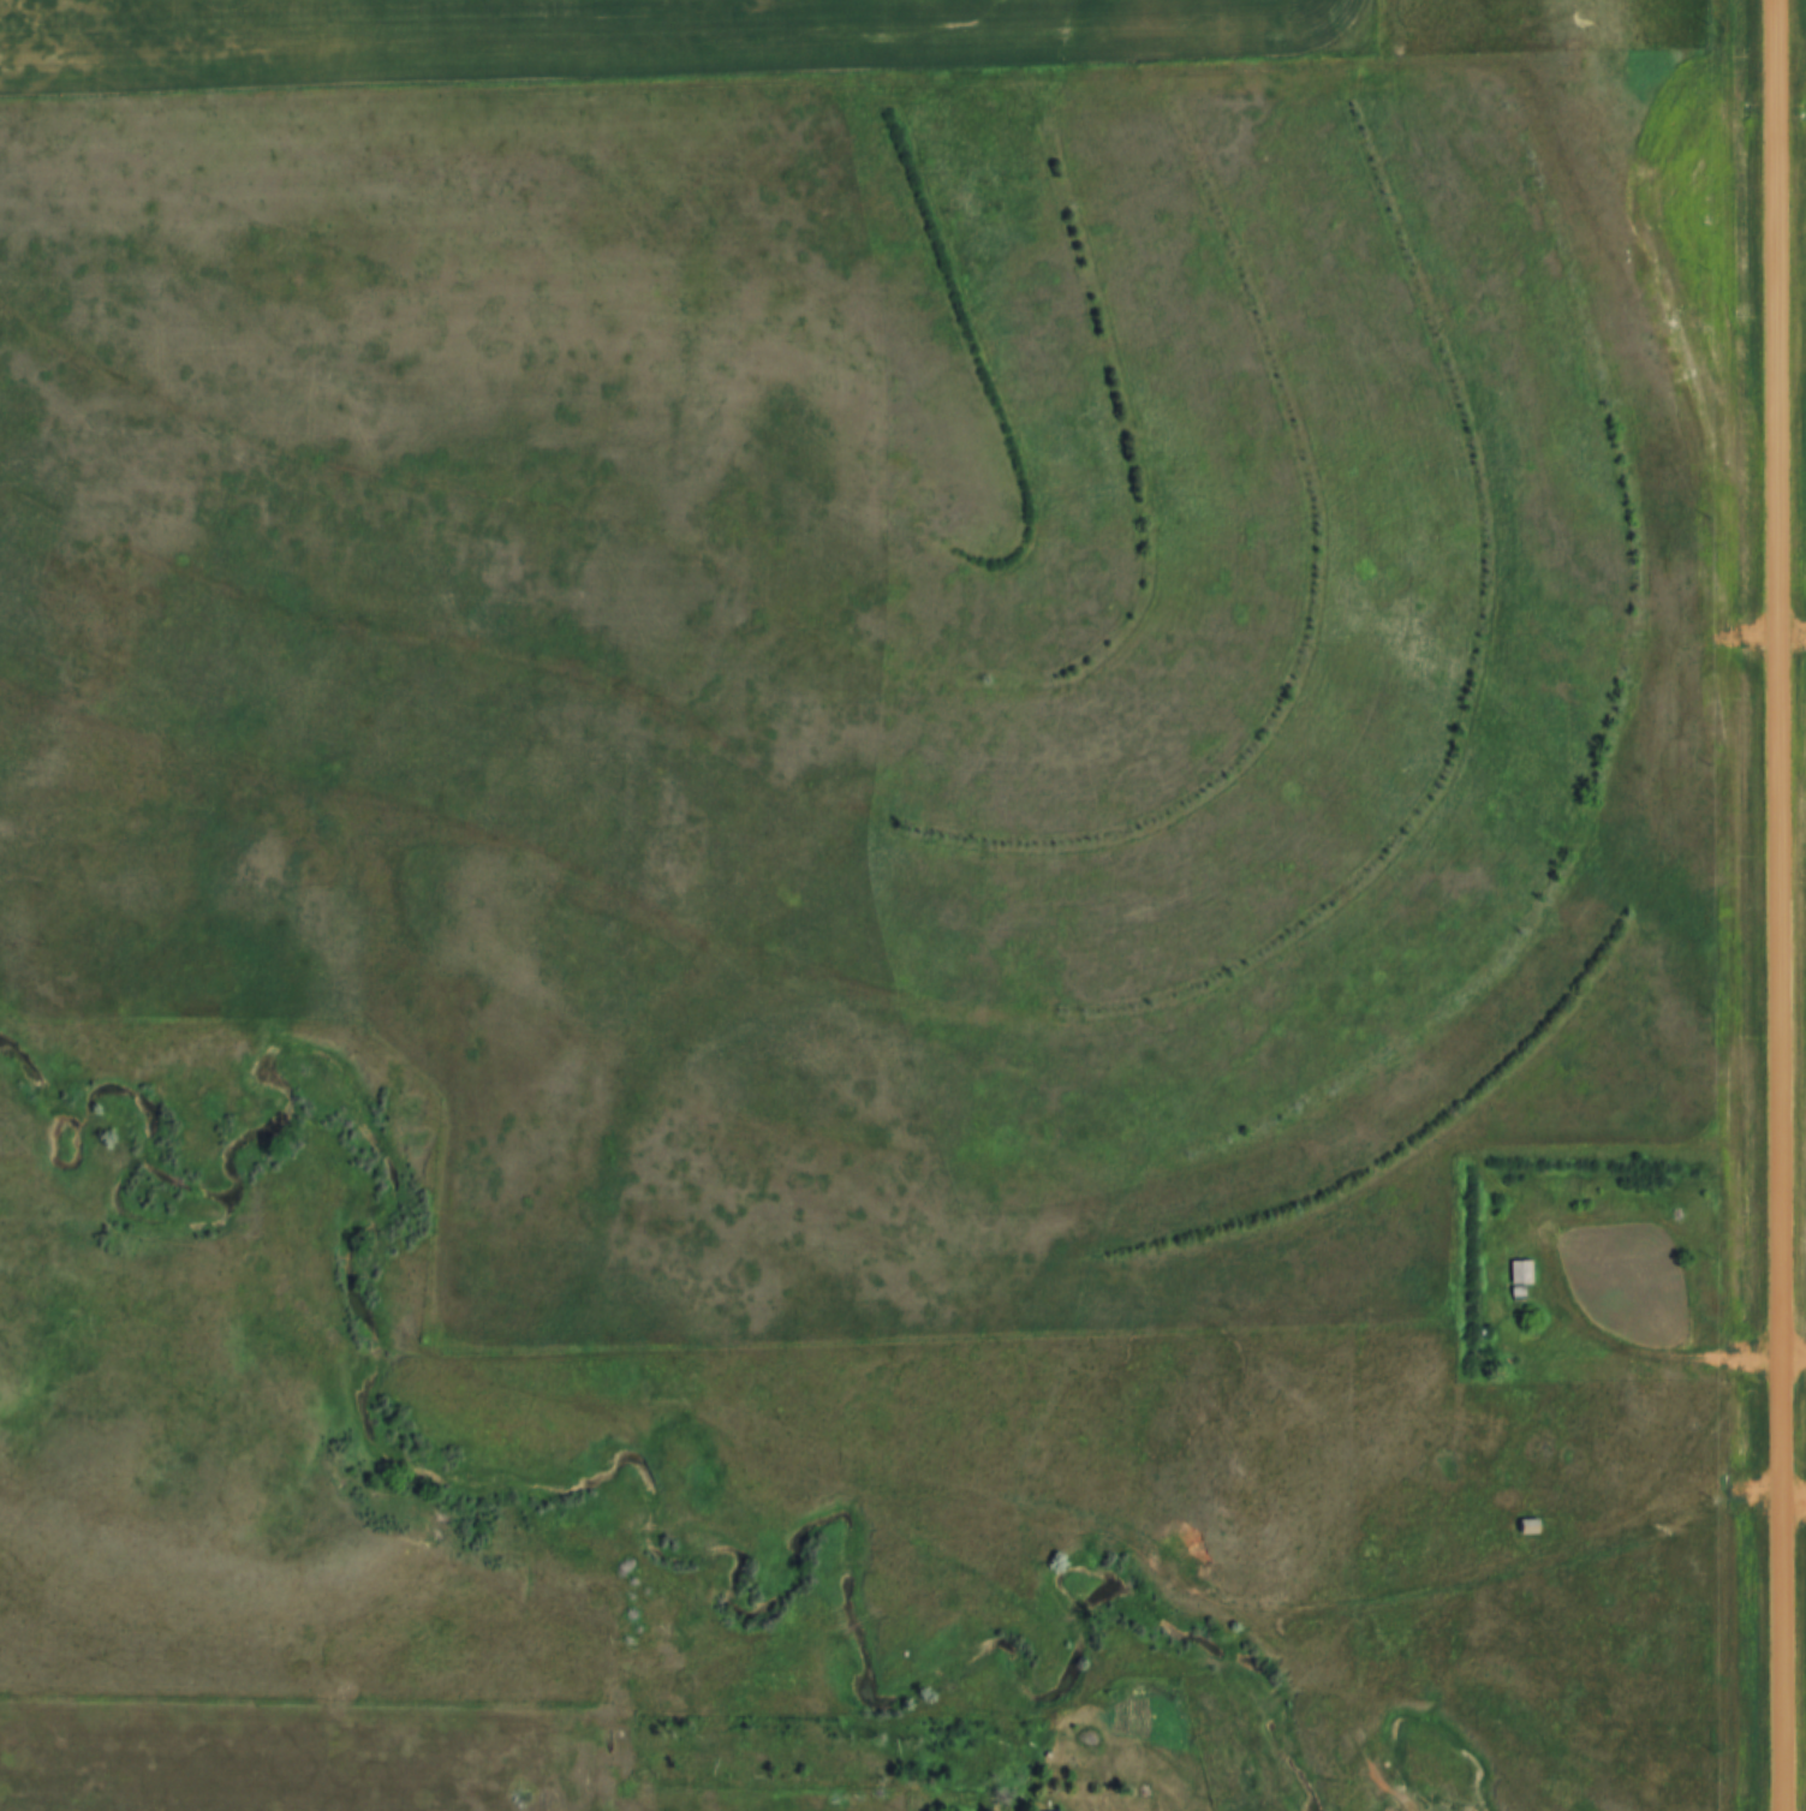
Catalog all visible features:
road: (1780, 905)
building: (1519, 1277)
road: (1655, 1356)
building: (1526, 1525)
road: (472, 1711)

